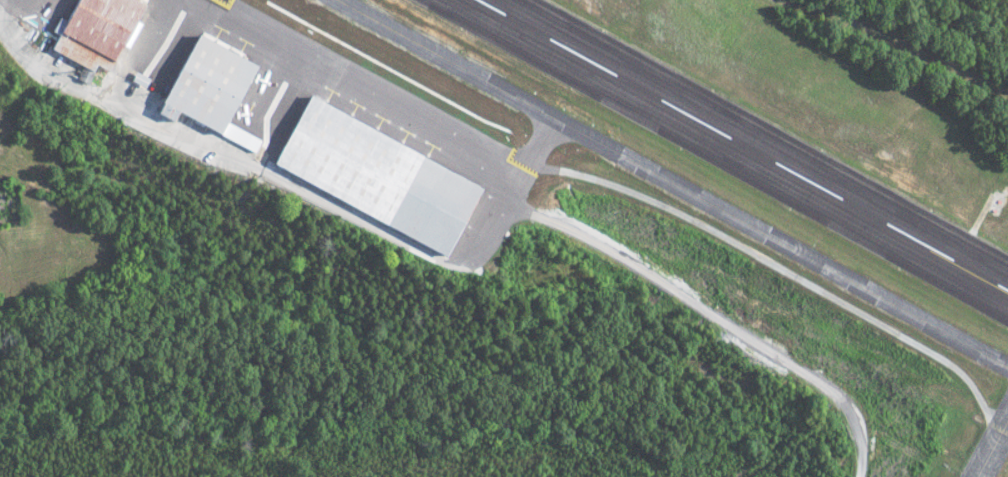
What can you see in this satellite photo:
airport hangar: (93, 27)
building: (93, 27)
airport hangar: (203, 77)
building: (203, 77)
airport apron: (275, 114)
airport runway: (771, 128)
airport runway: (709, 163)
airport hangar: (372, 168)
building: (372, 168)
airport taxiway: (673, 184)
airport: (504, 238)
airport taxiway: (993, 449)

